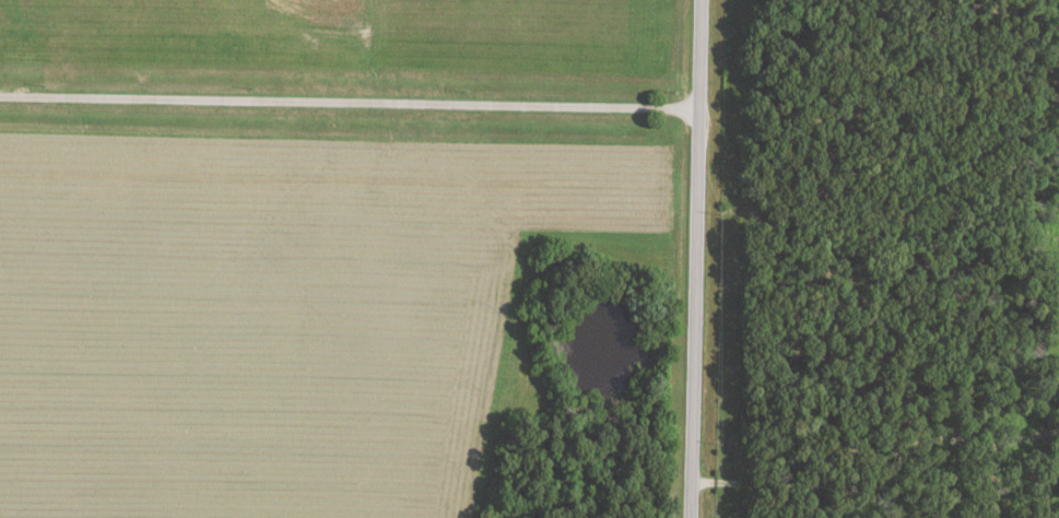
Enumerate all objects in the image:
road: (352, 104)
road: (701, 259)

